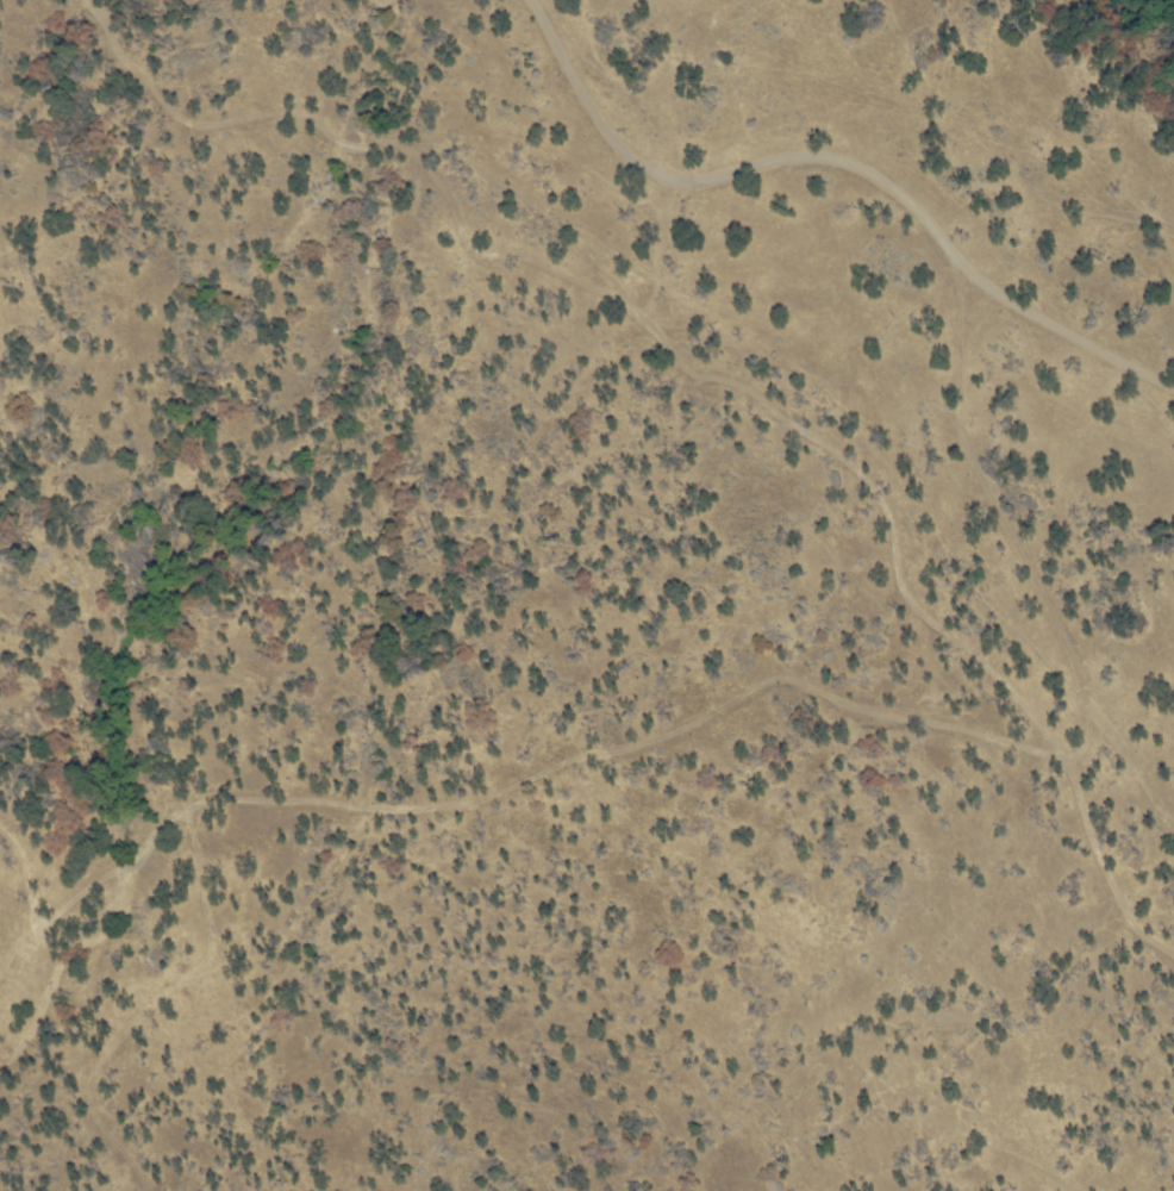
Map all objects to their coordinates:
road: (832, 177)
road: (729, 732)

